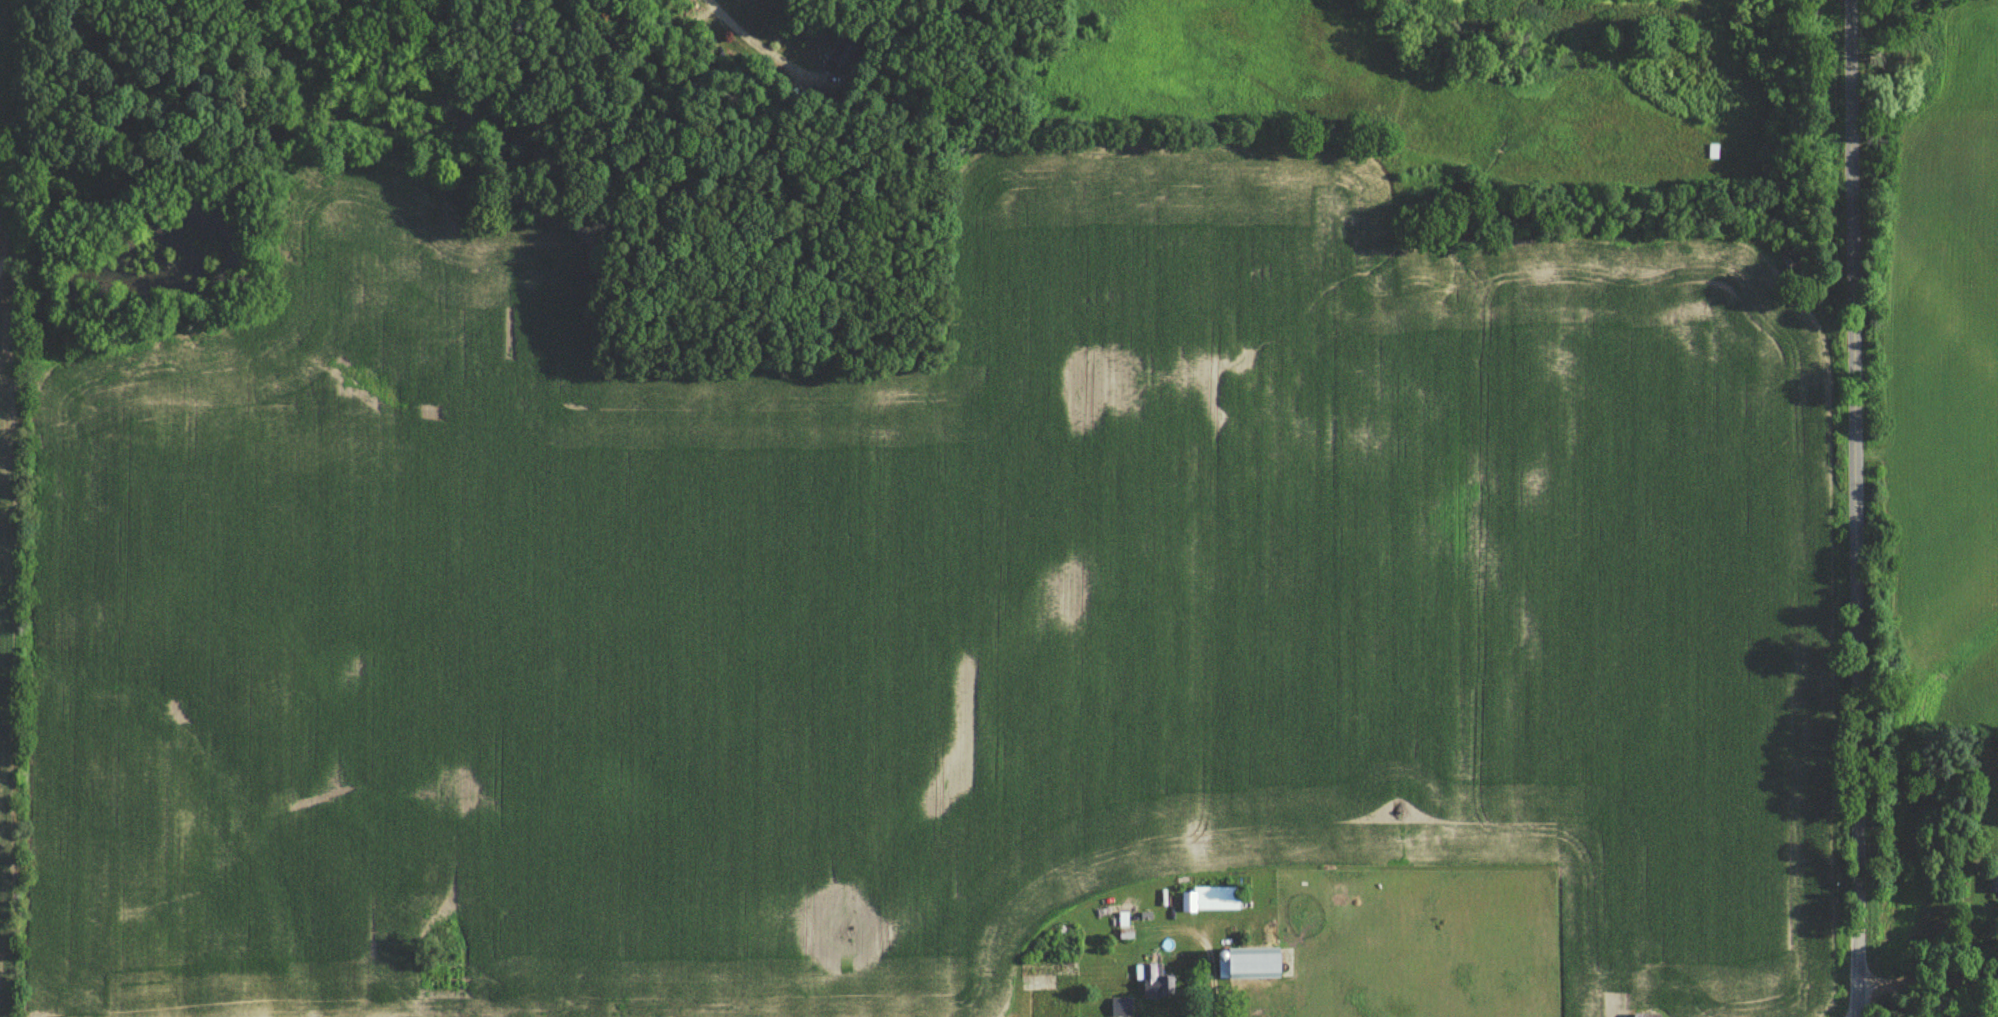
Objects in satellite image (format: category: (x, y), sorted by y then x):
road: (751, 47)
road: (1854, 68)
road: (1854, 576)
building: (1210, 900)
building: (1247, 964)
building: (1028, 970)
road: (1926, 980)
building: (1152, 984)

